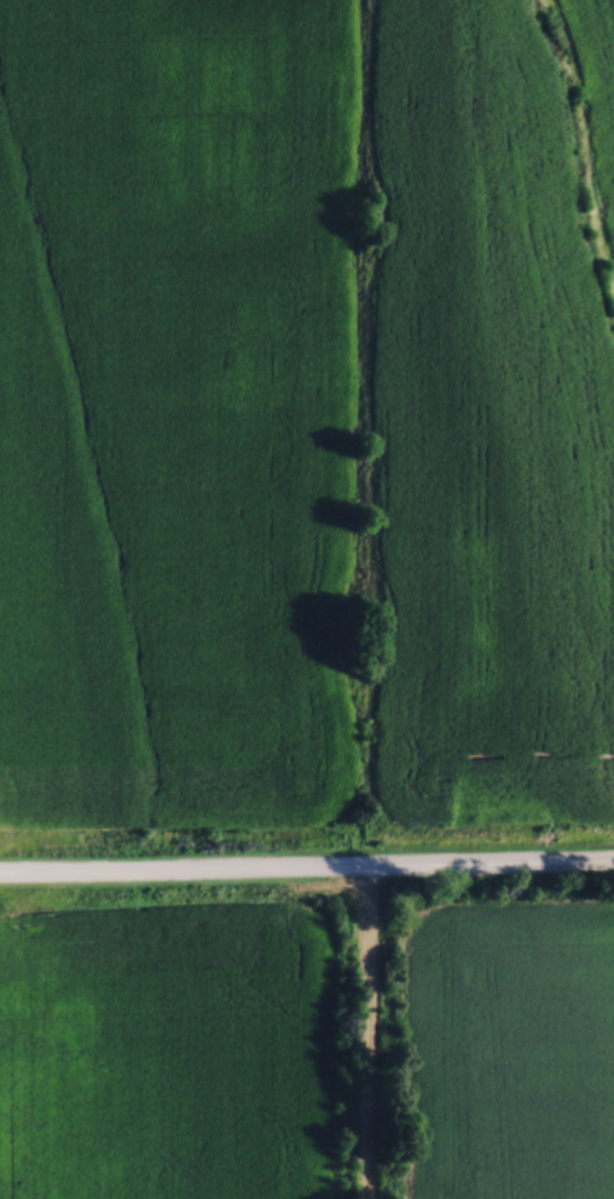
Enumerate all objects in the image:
road: (307, 868)
road: (369, 1033)

